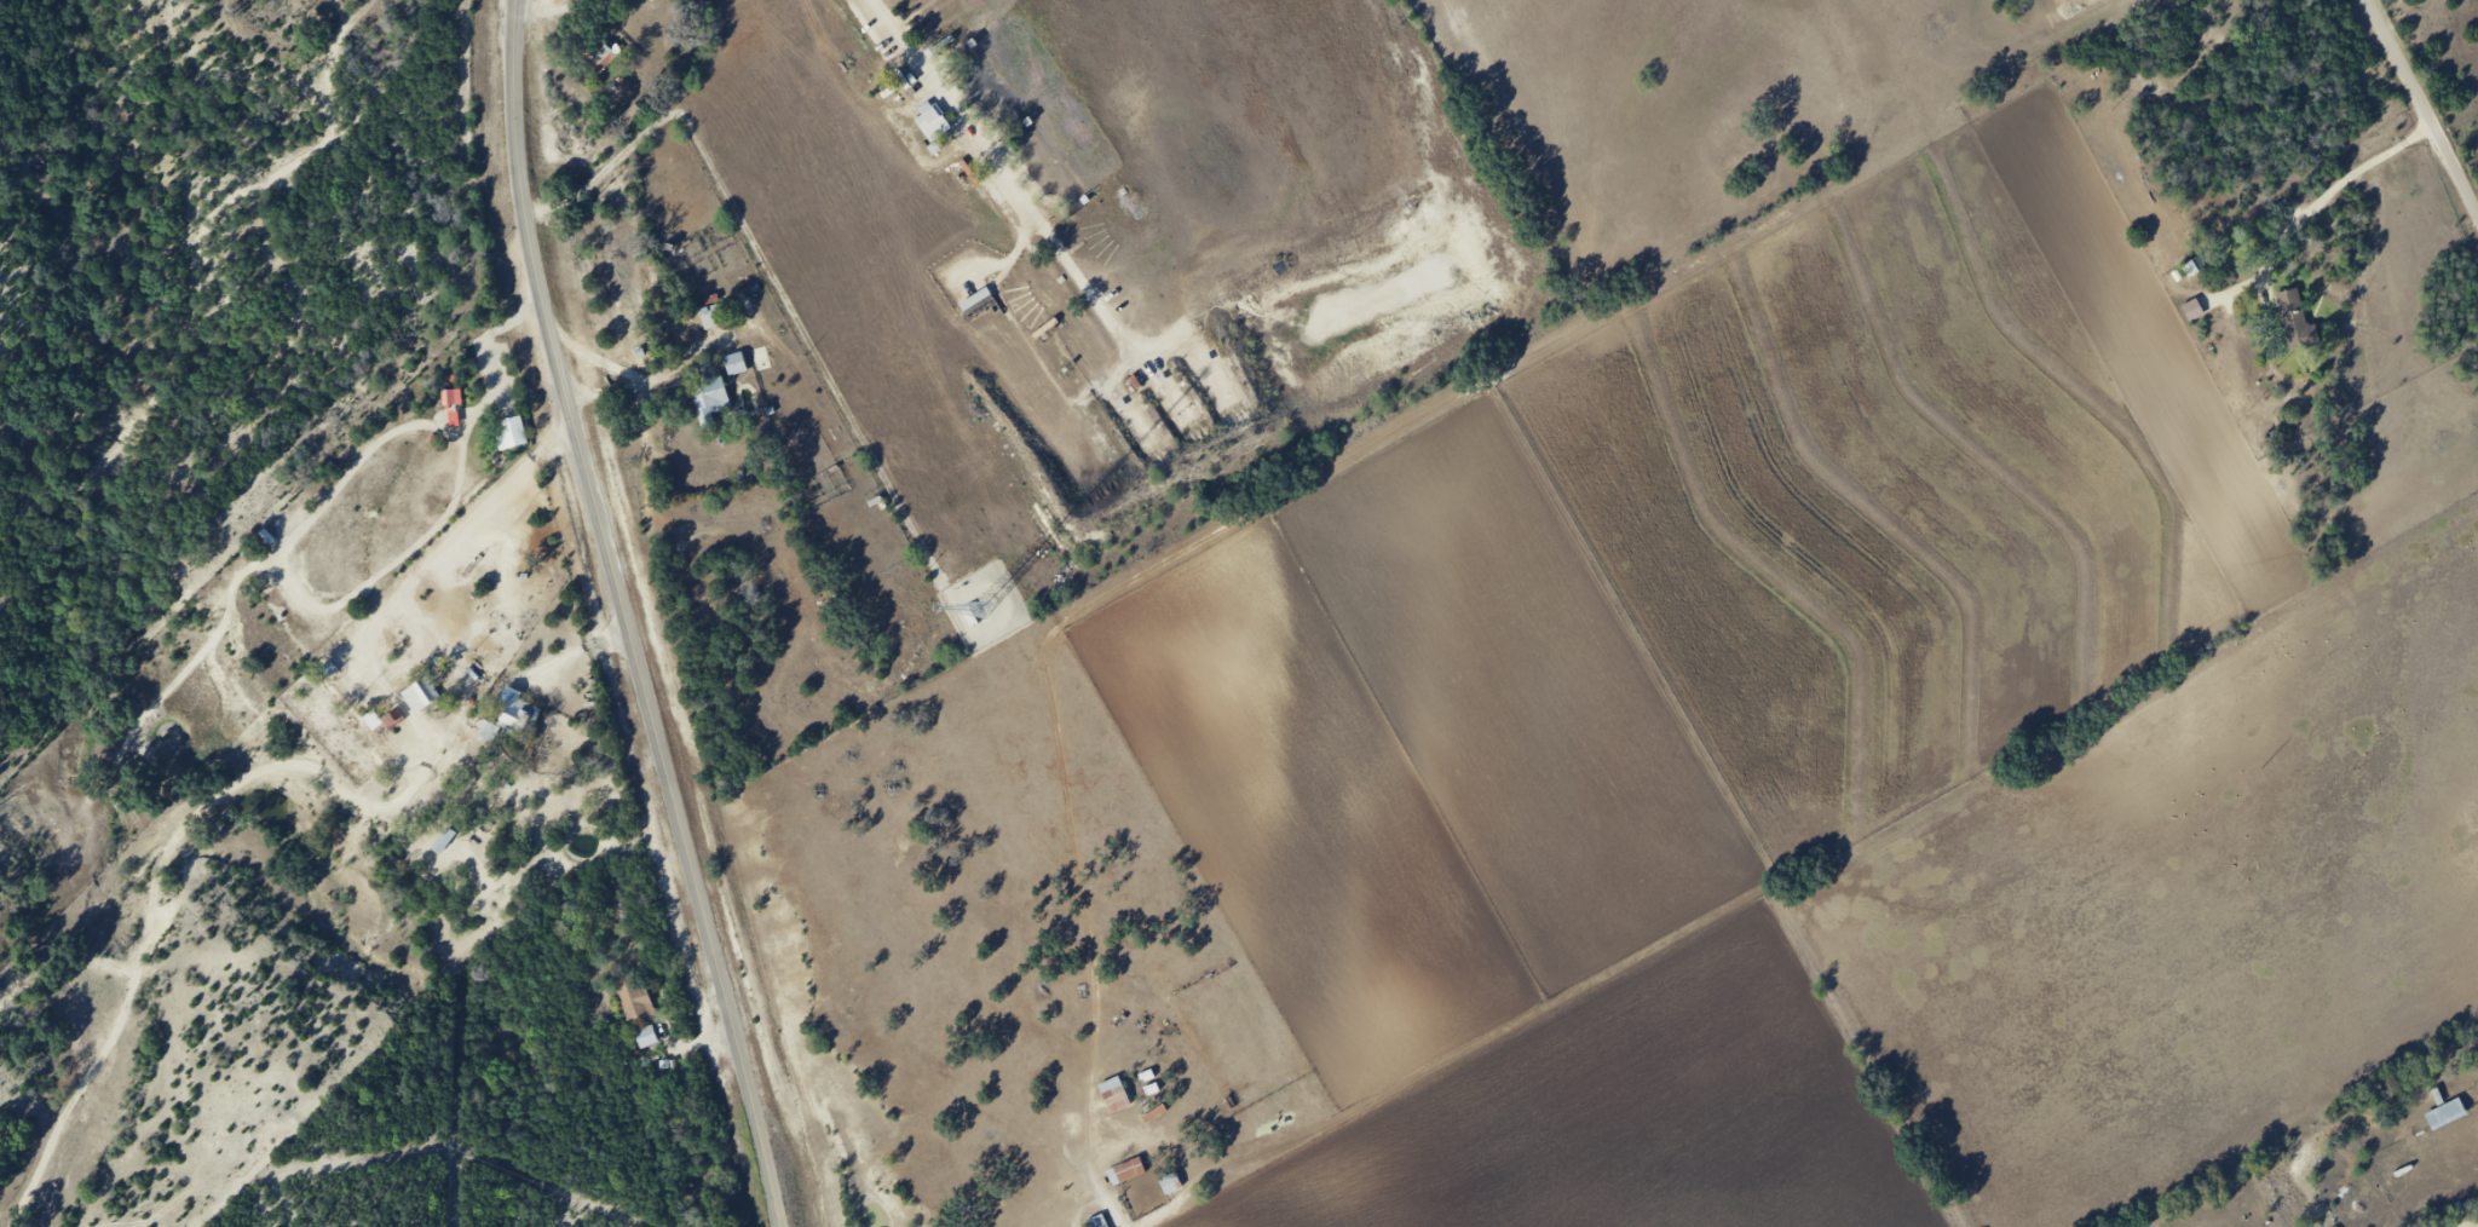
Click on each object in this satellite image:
building: (604, 57)
road: (2428, 97)
building: (933, 123)
building: (2192, 311)
building: (714, 318)
building: (2305, 323)
building: (760, 359)
building: (736, 365)
building: (709, 393)
building: (451, 398)
building: (512, 434)
road: (632, 617)
building: (421, 696)
building: (515, 715)
building: (444, 841)
building: (634, 998)
building: (646, 1037)
building: (1114, 1095)
building: (2445, 1114)
building: (1126, 1173)
building: (1170, 1185)

